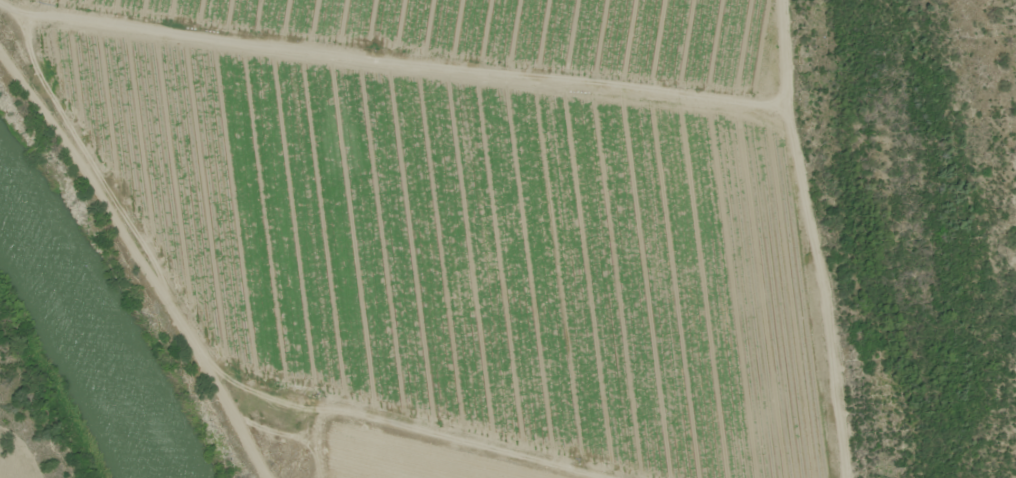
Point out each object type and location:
river: (86, 336)

